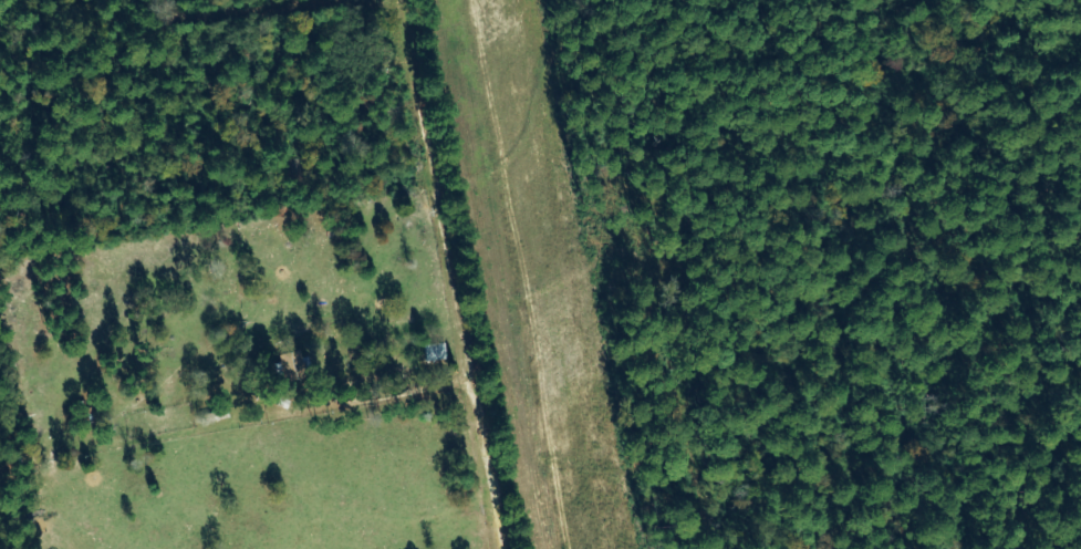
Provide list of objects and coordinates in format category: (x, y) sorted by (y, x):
road: (455, 299)
building: (291, 362)

